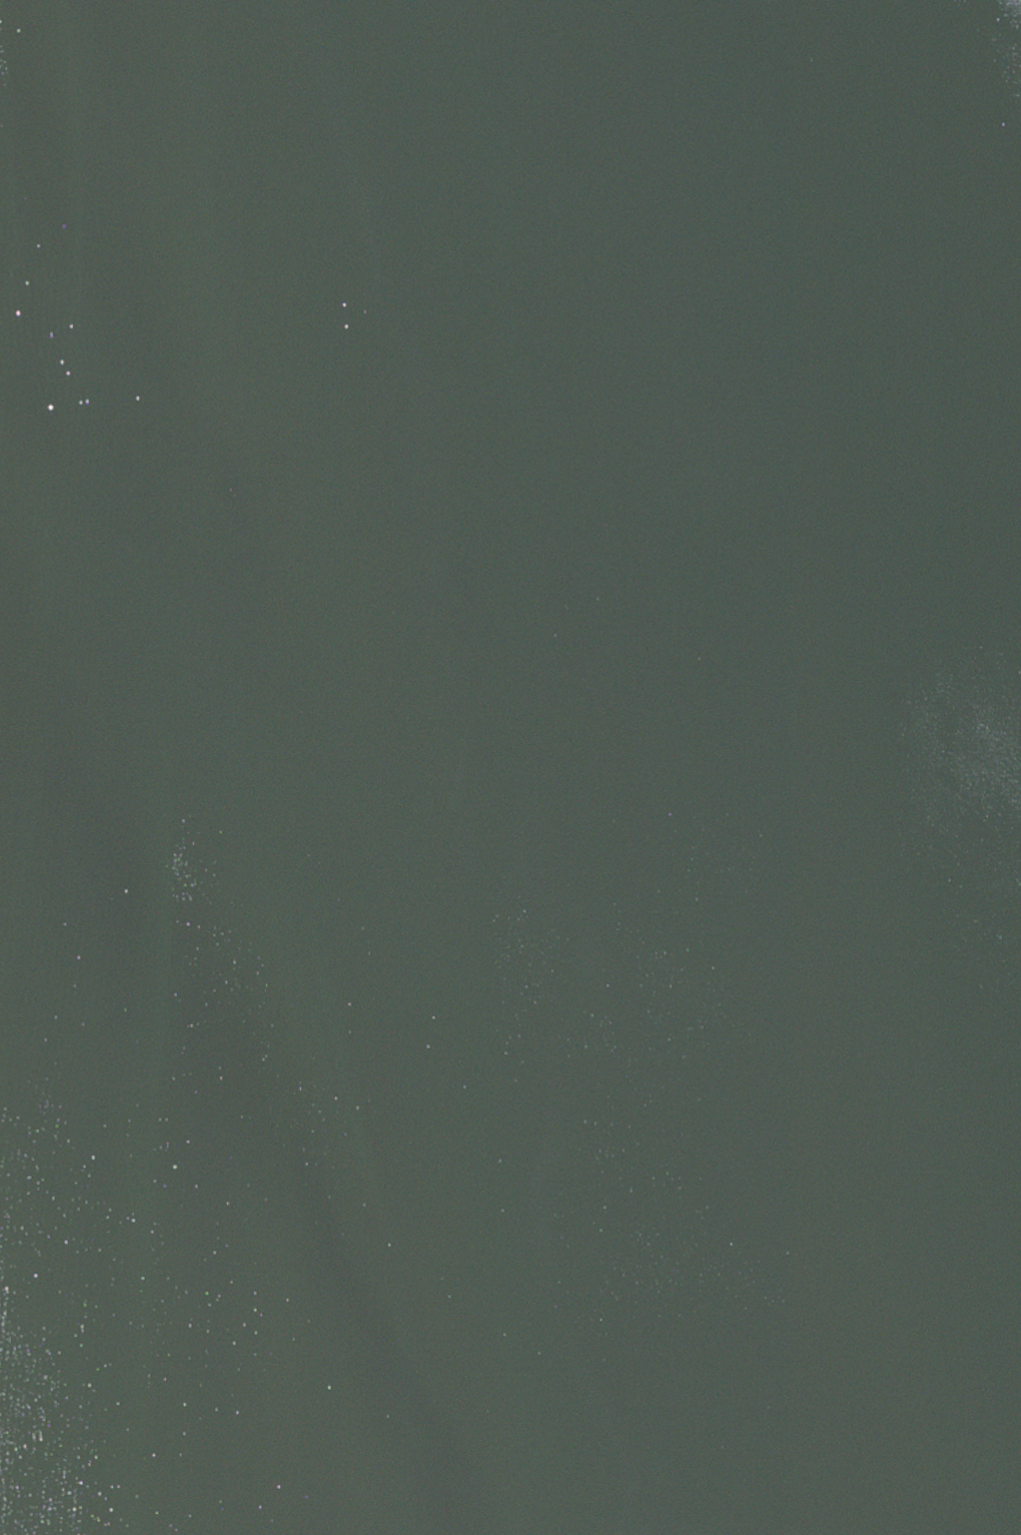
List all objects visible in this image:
river: (239, 830)

